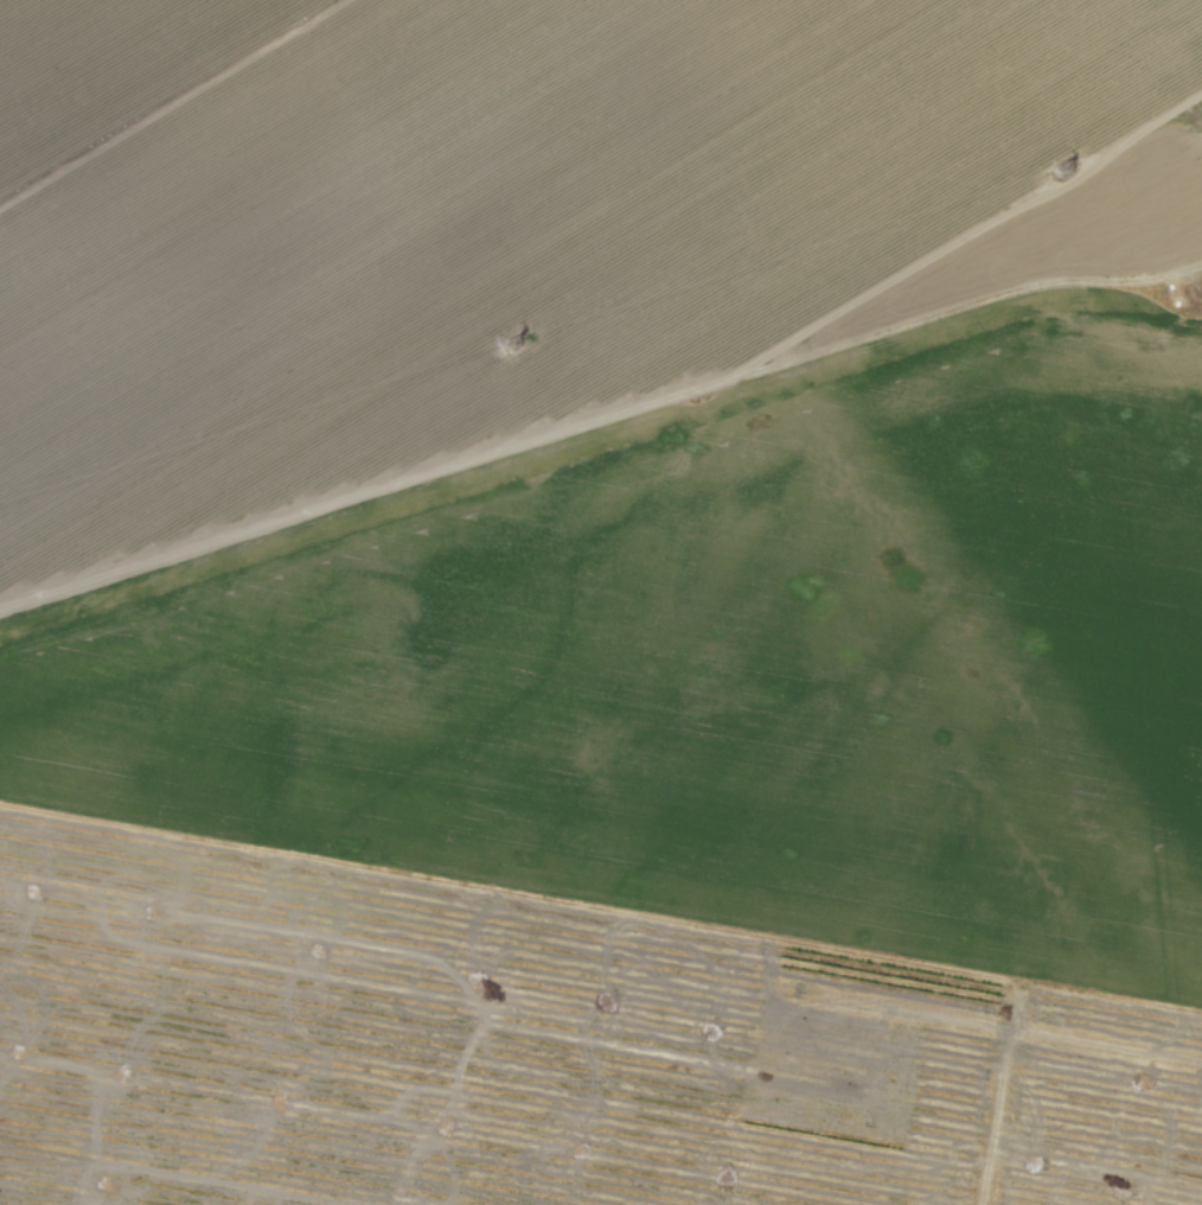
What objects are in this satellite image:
power tower: (1062, 161)
power tower: (512, 338)
road: (597, 416)

